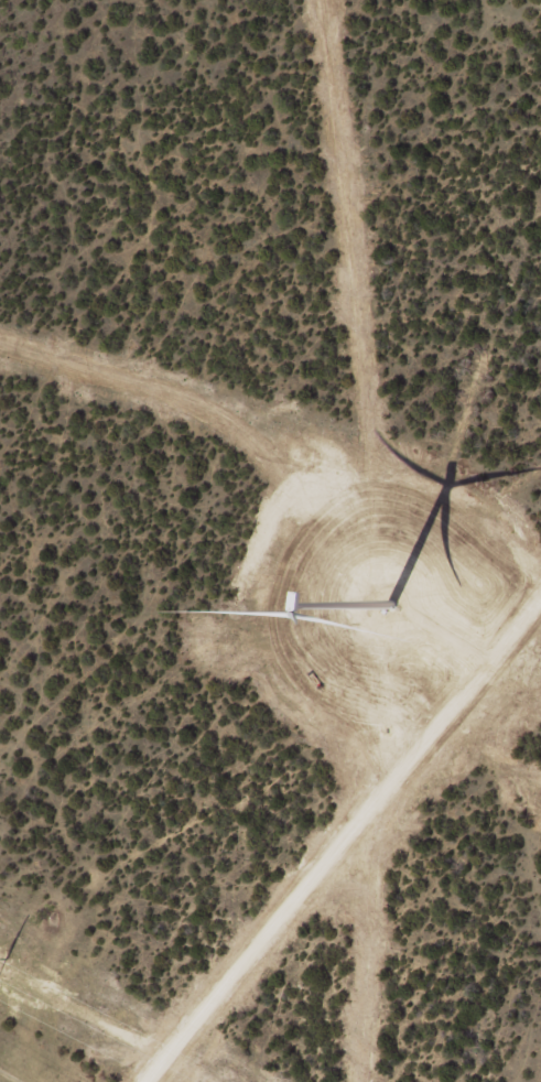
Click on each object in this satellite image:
wind turbine: (392, 592)

